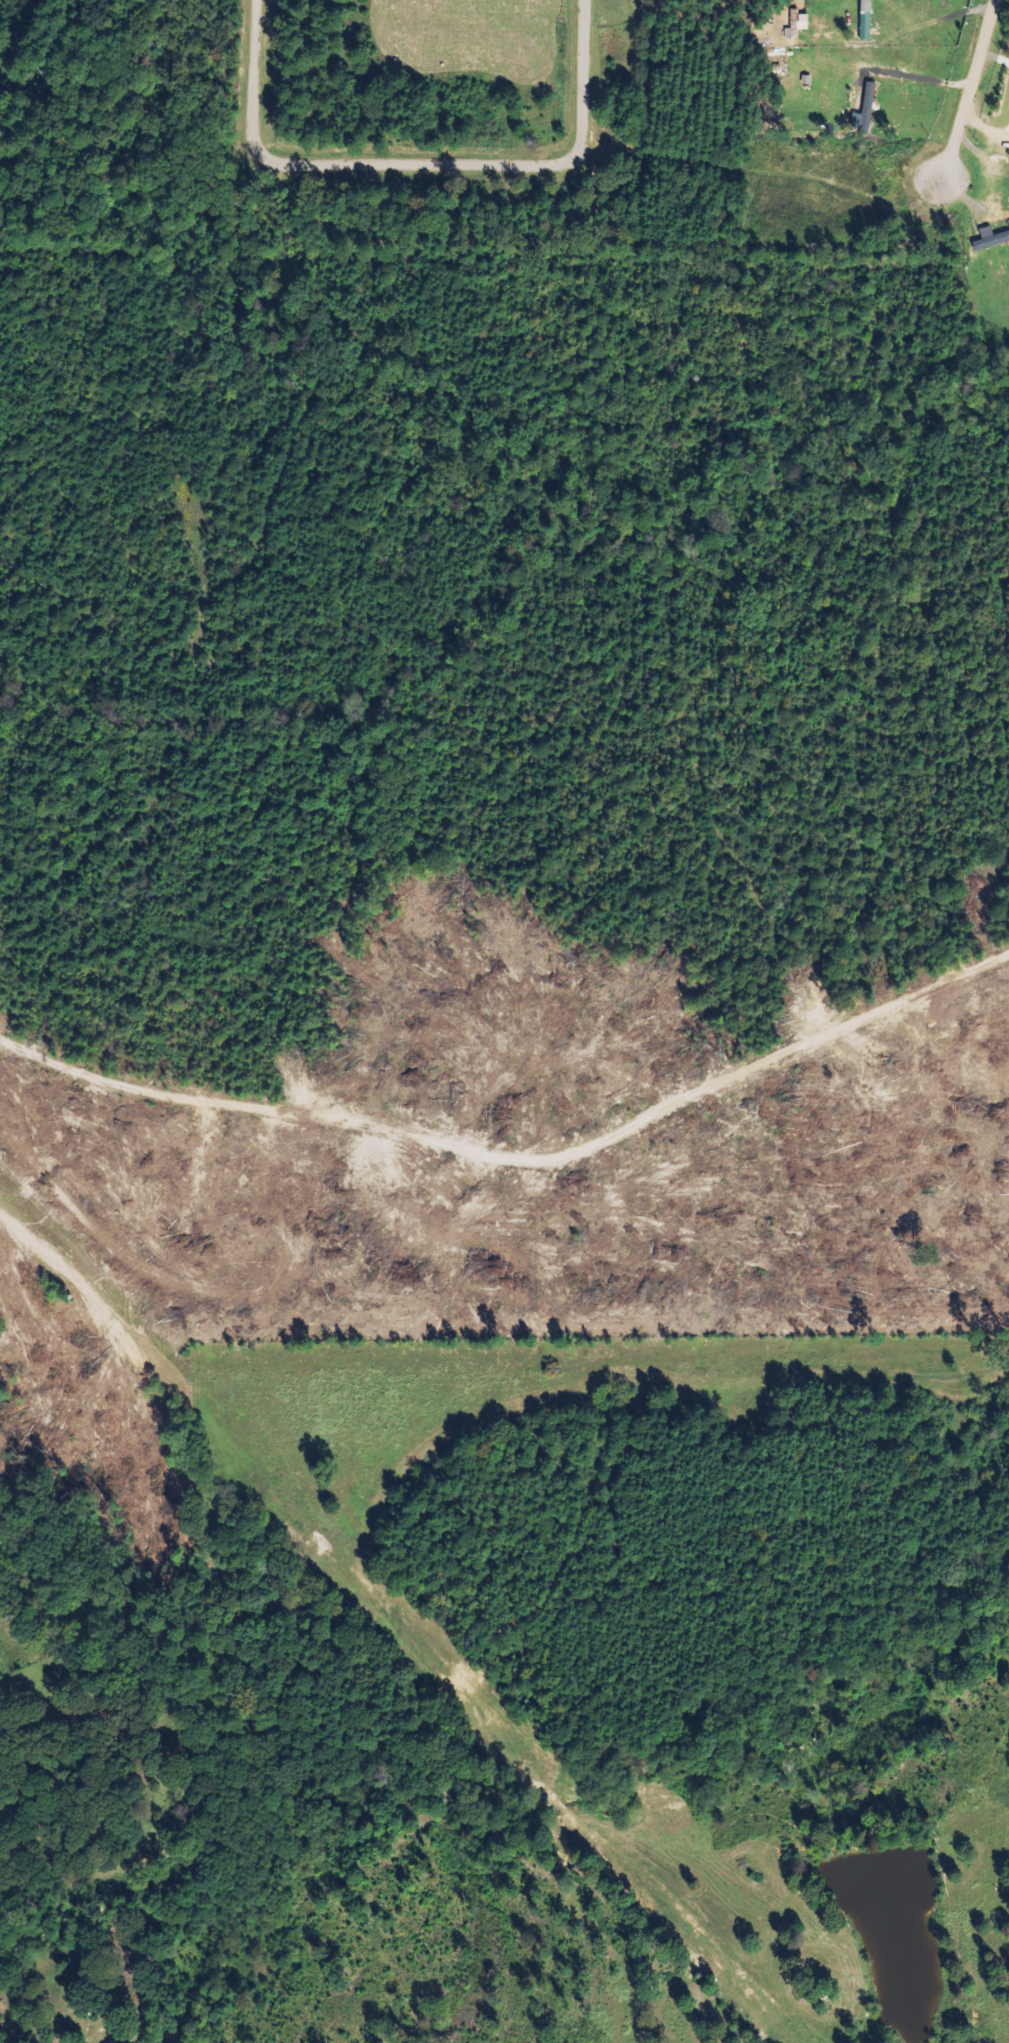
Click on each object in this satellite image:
building: (797, 23)
road: (111, 68)
road: (970, 88)
building: (864, 106)
road: (418, 164)
building: (990, 239)
road: (513, 1131)

